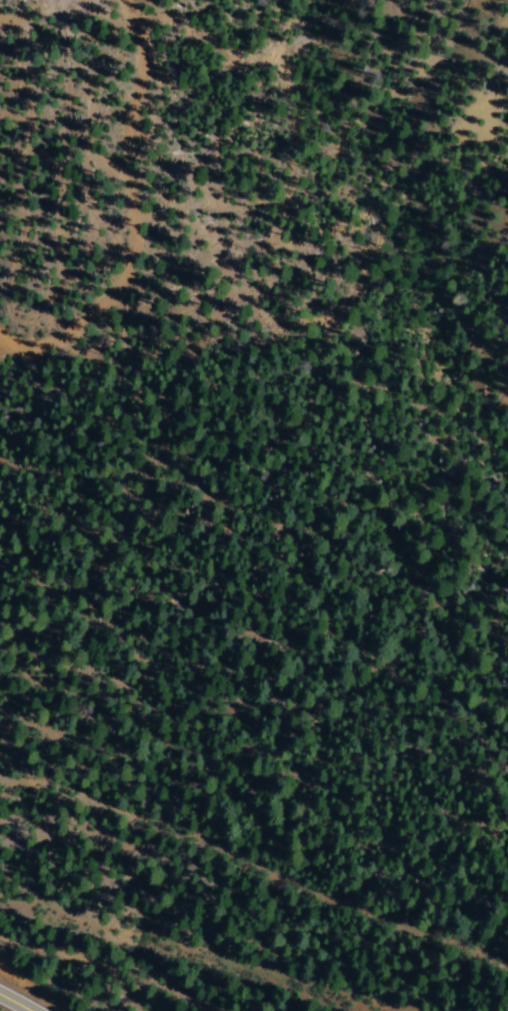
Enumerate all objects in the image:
road: (15, 1003)

